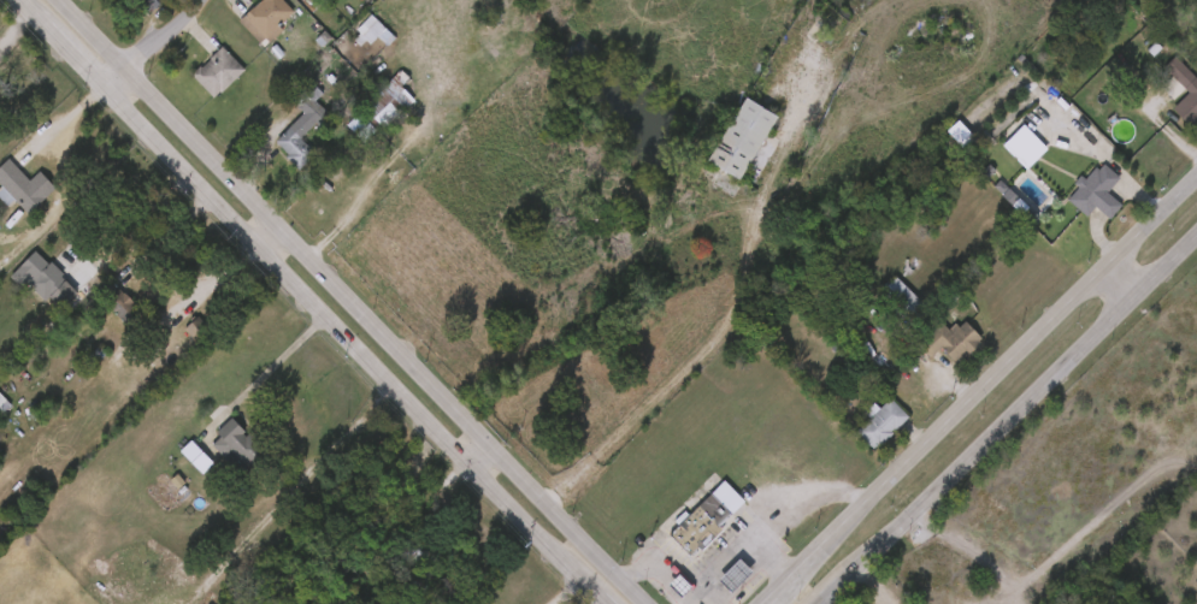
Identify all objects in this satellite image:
building: (154, 4)
building: (269, 20)
road: (13, 30)
road: (152, 46)
building: (220, 72)
building: (1183, 90)
building: (385, 107)
building: (307, 125)
building: (742, 138)
building: (1026, 146)
building: (24, 186)
building: (1097, 193)
road: (140, 220)
road: (263, 237)
road: (1122, 278)
building: (48, 280)
building: (903, 300)
building: (120, 301)
road: (306, 302)
road: (343, 302)
building: (196, 331)
building: (953, 342)
road: (277, 365)
road: (1003, 365)
road: (677, 371)
road: (1008, 421)
building: (881, 424)
building: (242, 448)
road: (477, 458)
road: (800, 491)
building: (703, 525)
road: (743, 538)
building: (423, 556)
road: (665, 557)
building: (736, 574)
gas station: (736, 574)
road: (788, 580)
building: (678, 585)
road: (706, 593)
building: (242, 600)

